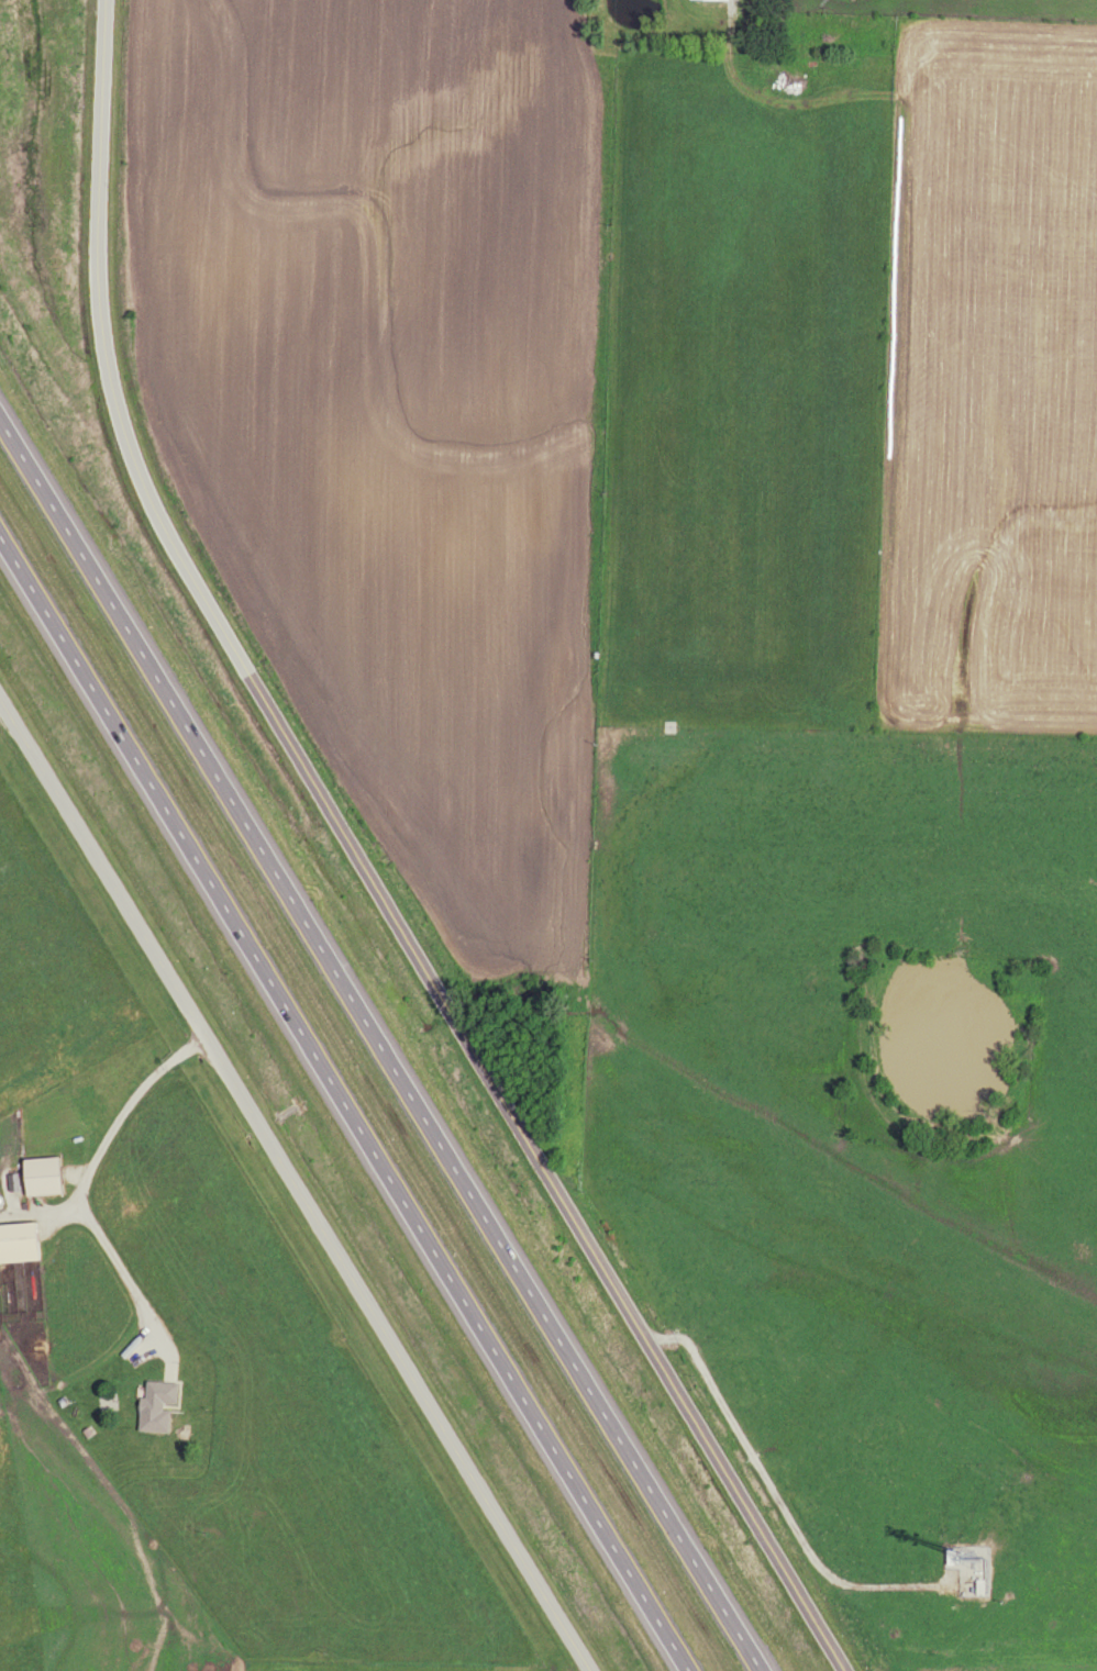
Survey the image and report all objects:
road: (364, 865)
road: (383, 1045)
road: (344, 1104)
building: (46, 1176)
road: (84, 1182)
road: (293, 1185)
building: (21, 1243)
building: (106, 1402)
building: (159, 1406)

